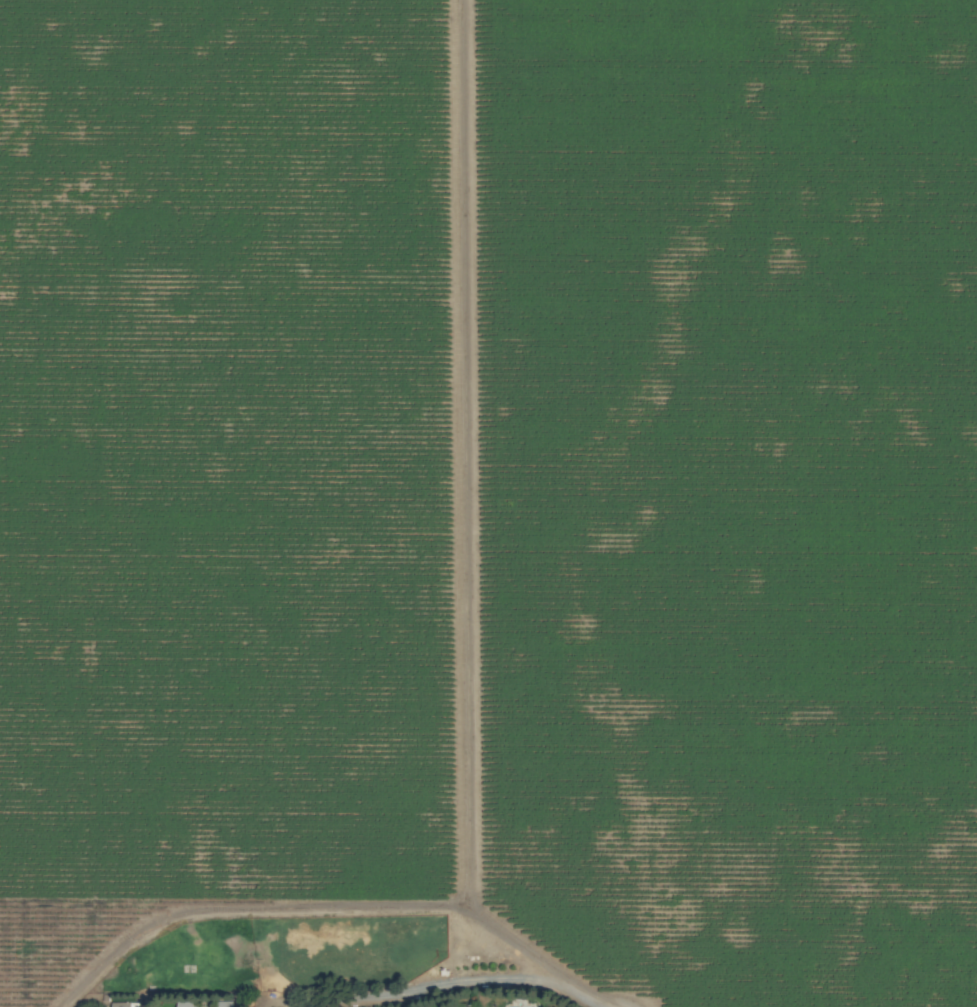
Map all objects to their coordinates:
crop: (488, 503)
road: (340, 906)
road: (434, 982)
building: (186, 1003)
building: (223, 1003)
building: (120, 1004)

